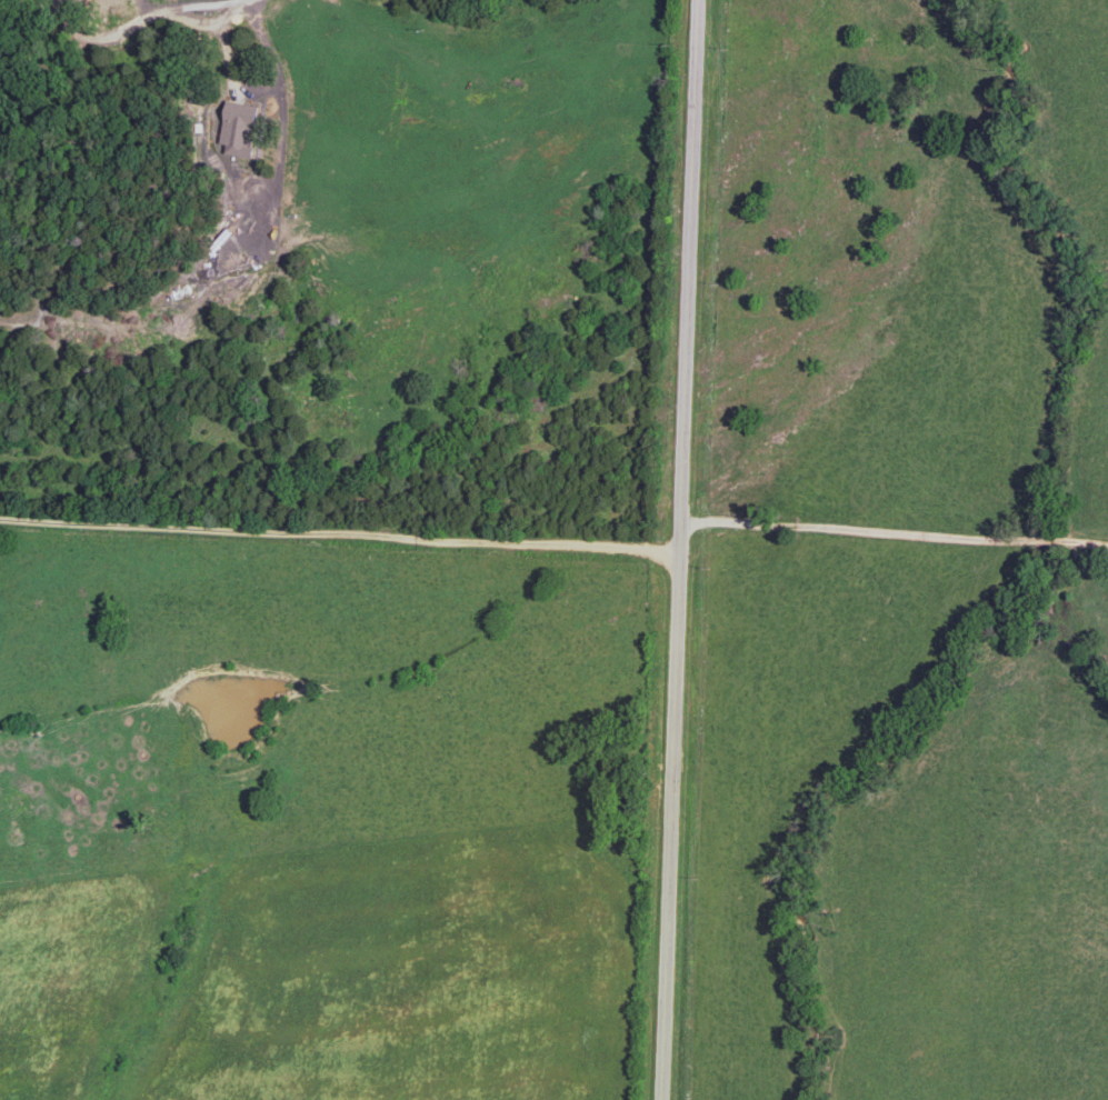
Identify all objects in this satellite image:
road: (142, 21)
road: (227, 47)
road: (896, 509)
road: (341, 520)
road: (681, 549)

